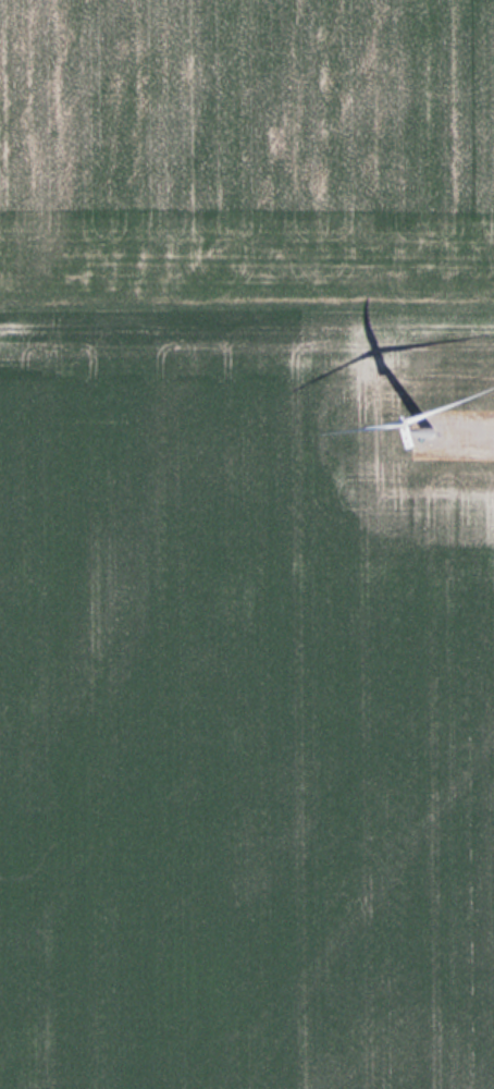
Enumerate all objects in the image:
wind turbine: (422, 450)

